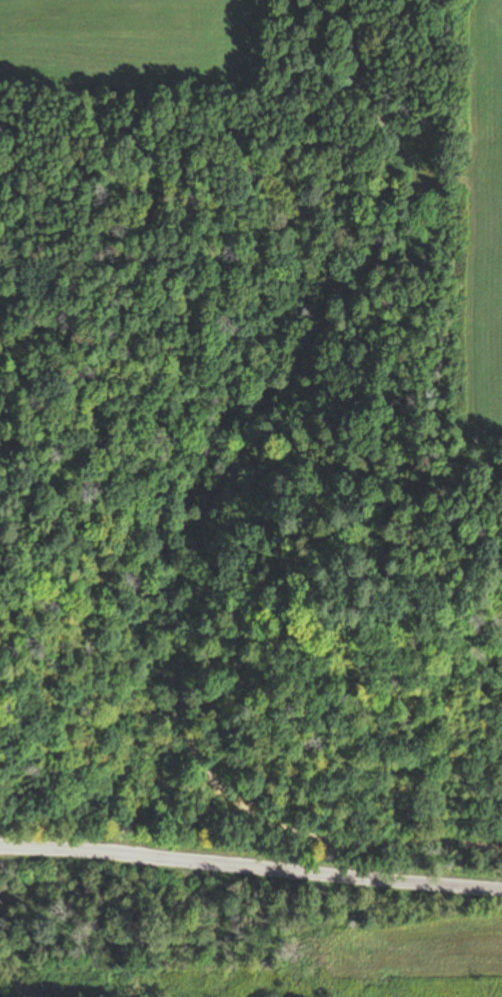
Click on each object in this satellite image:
road: (250, 873)

